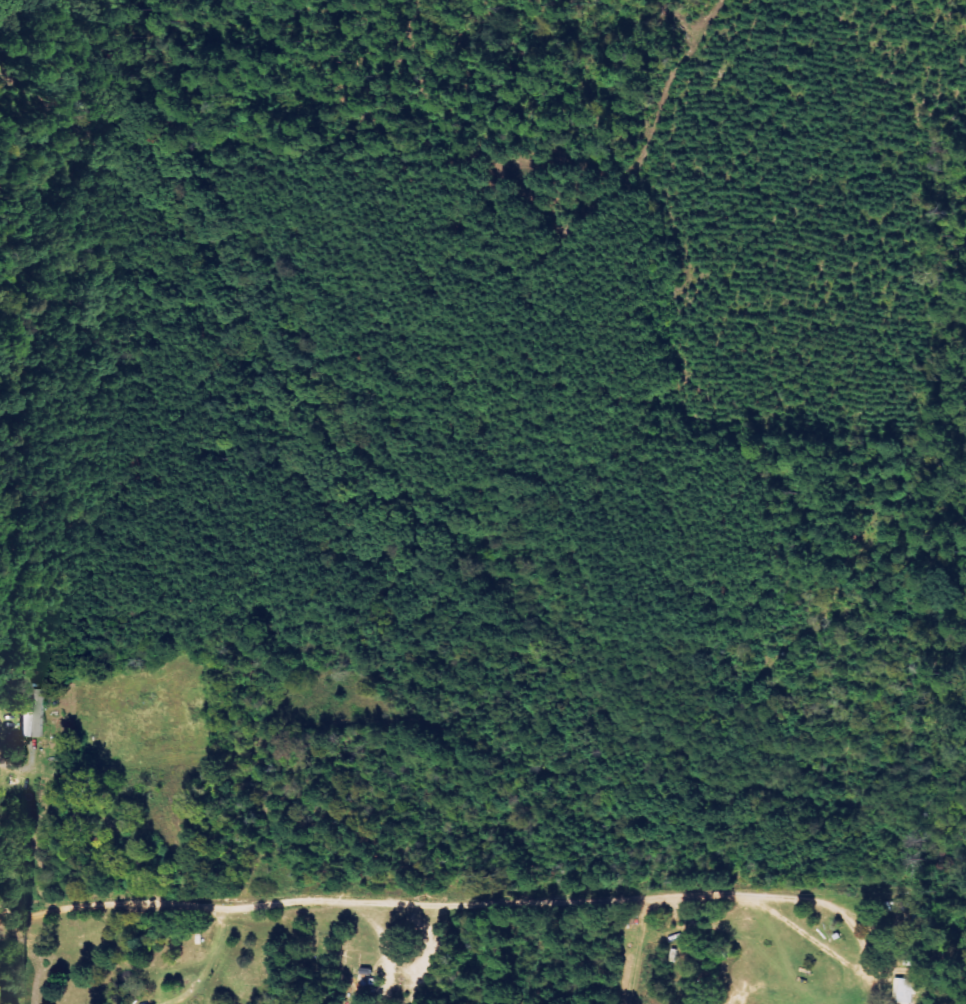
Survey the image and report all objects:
building: (32, 717)
road: (627, 970)
building: (903, 991)

